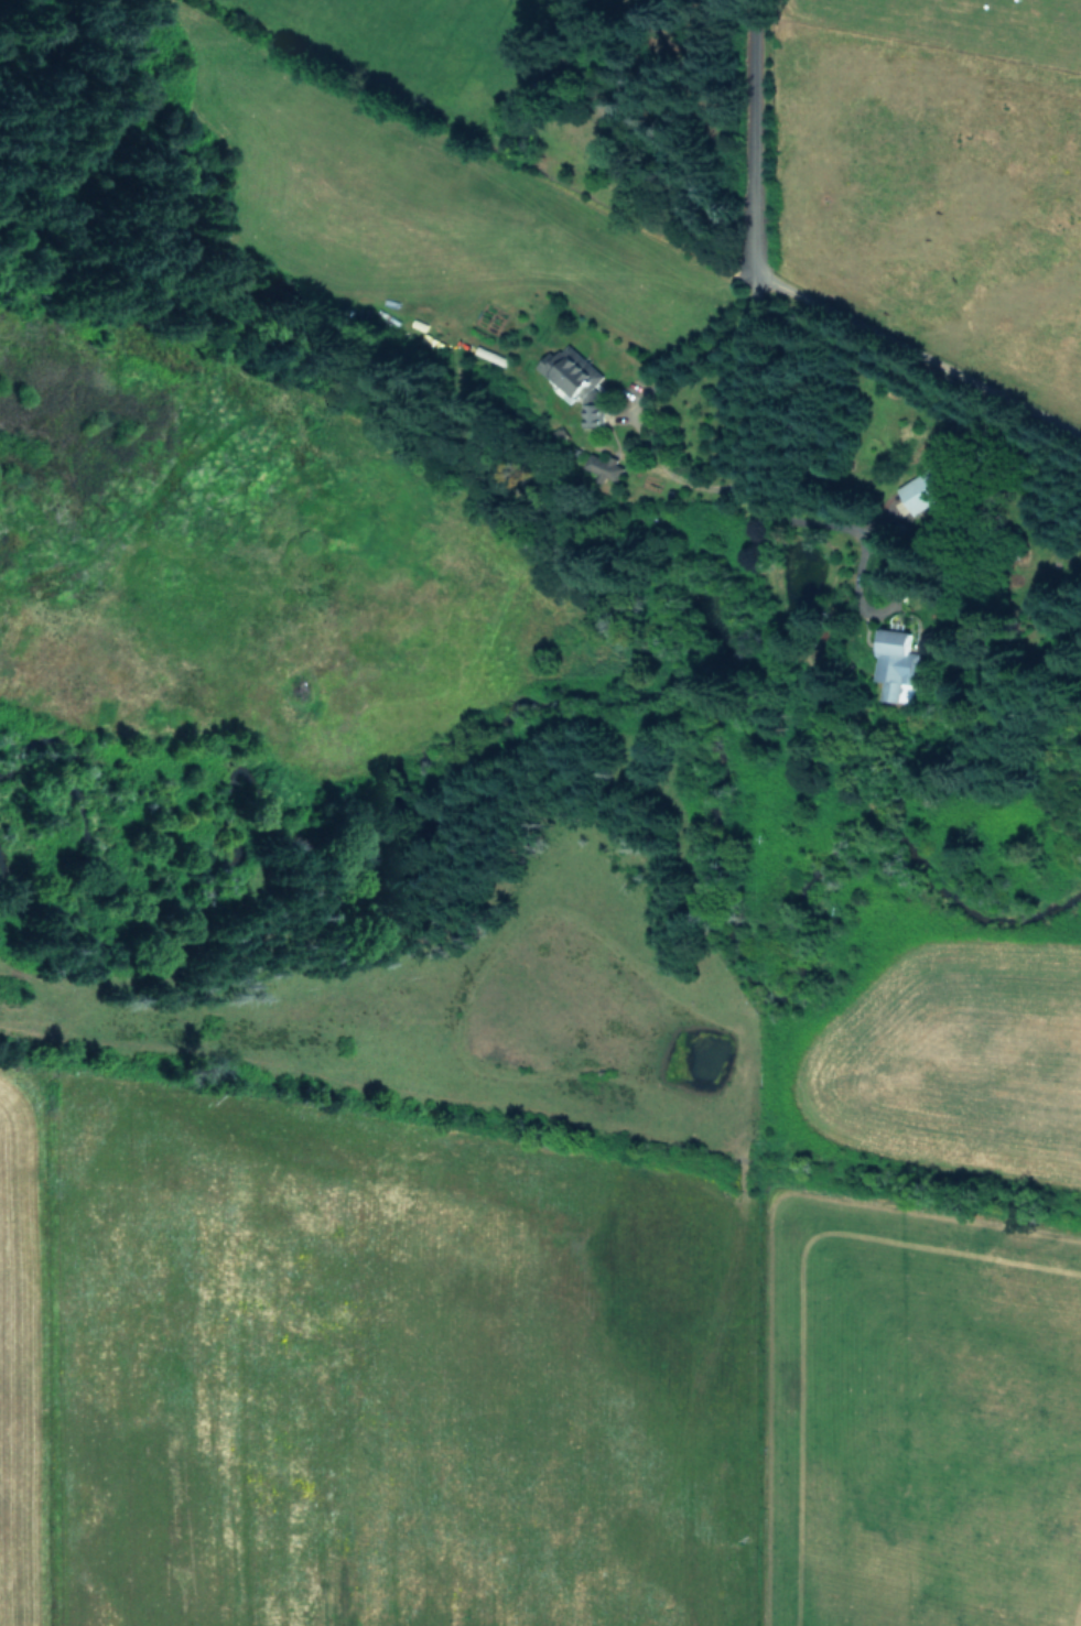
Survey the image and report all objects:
road: (758, 290)
road: (919, 353)
building: (563, 371)
road: (635, 409)
building: (590, 412)
crop: (543, 1301)

